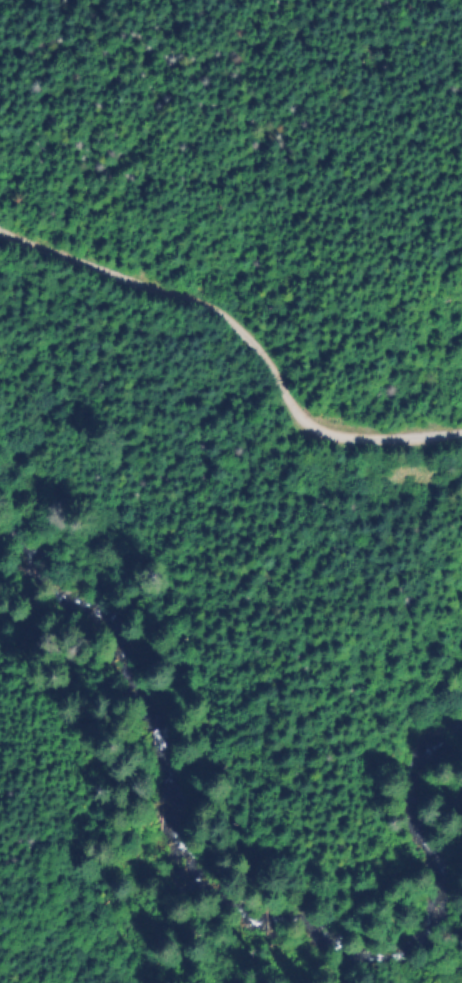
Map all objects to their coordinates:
road: (253, 318)

